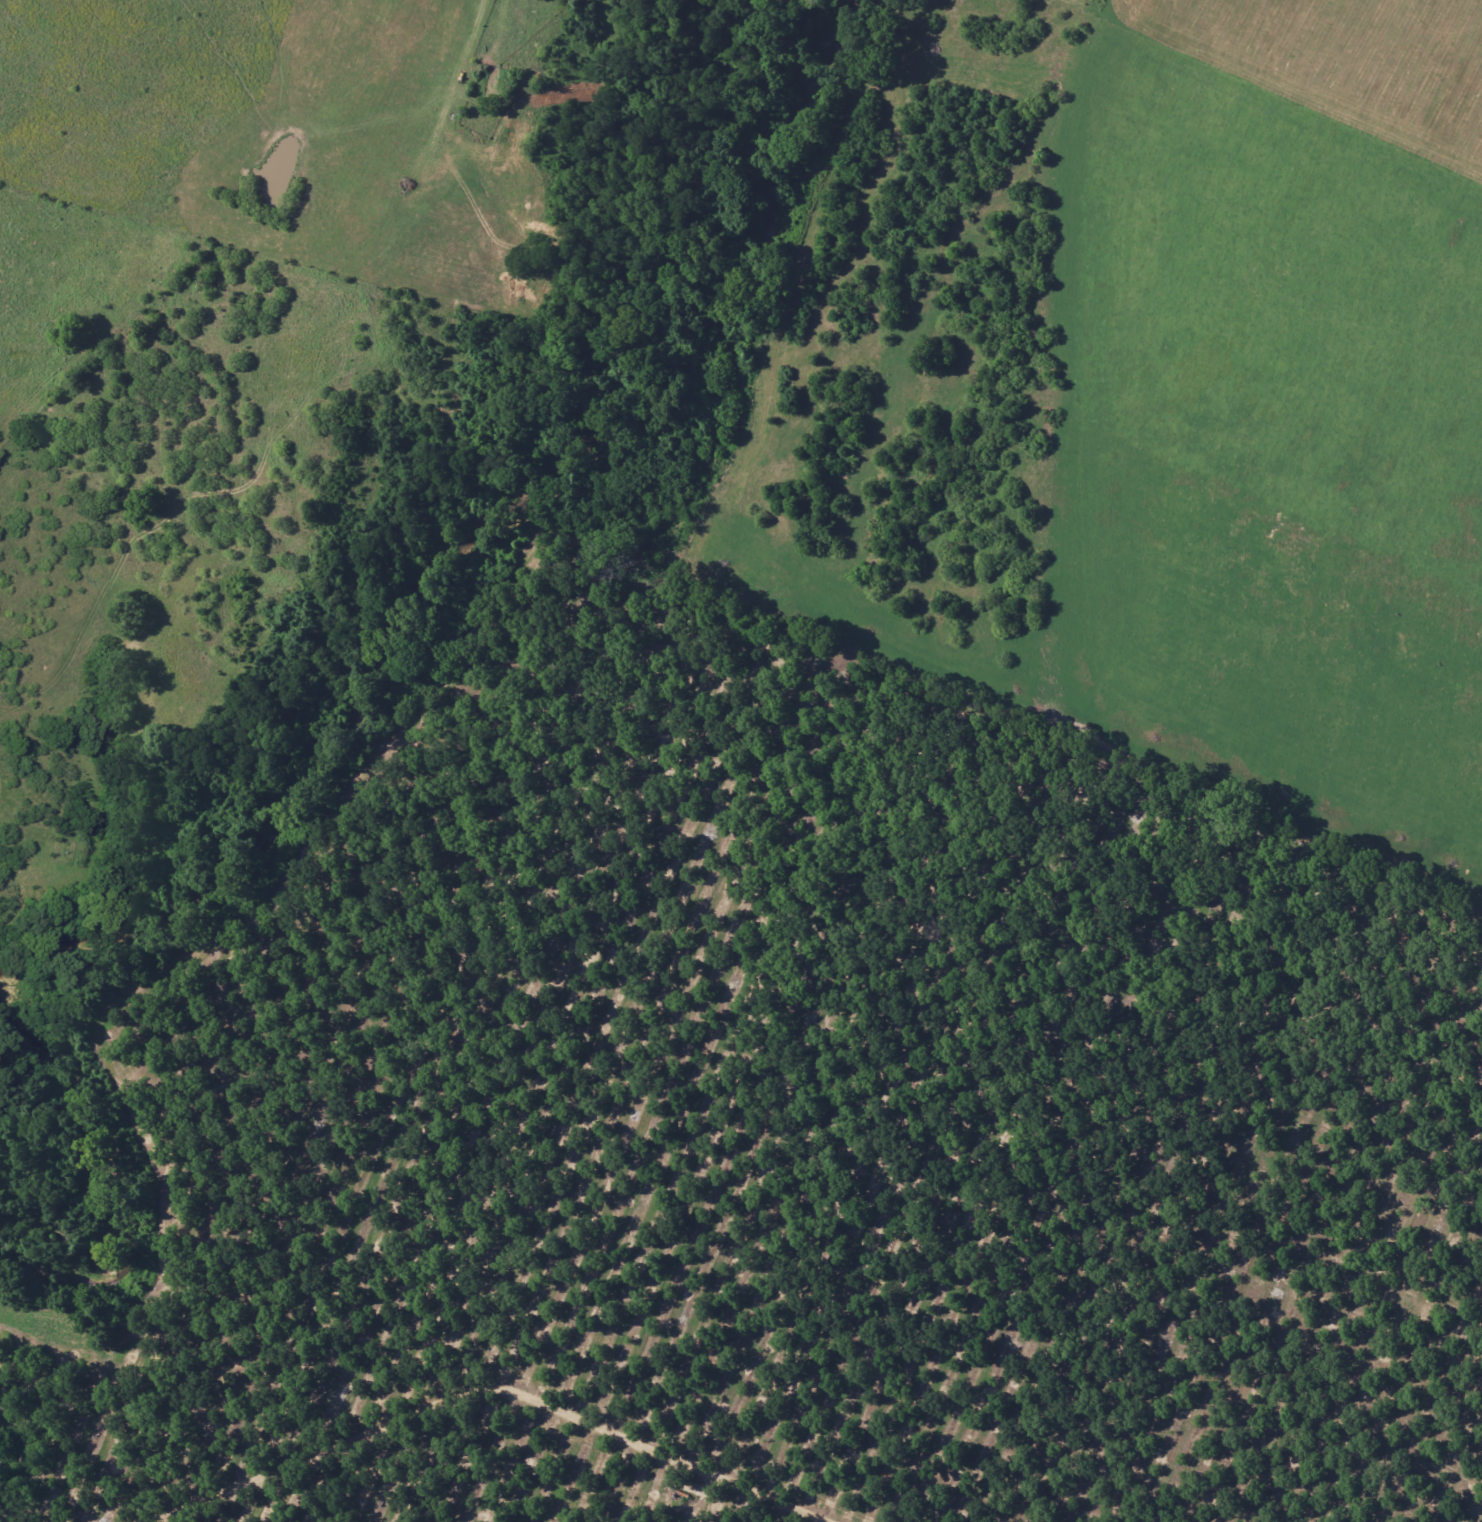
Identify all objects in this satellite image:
road: (483, 1389)

